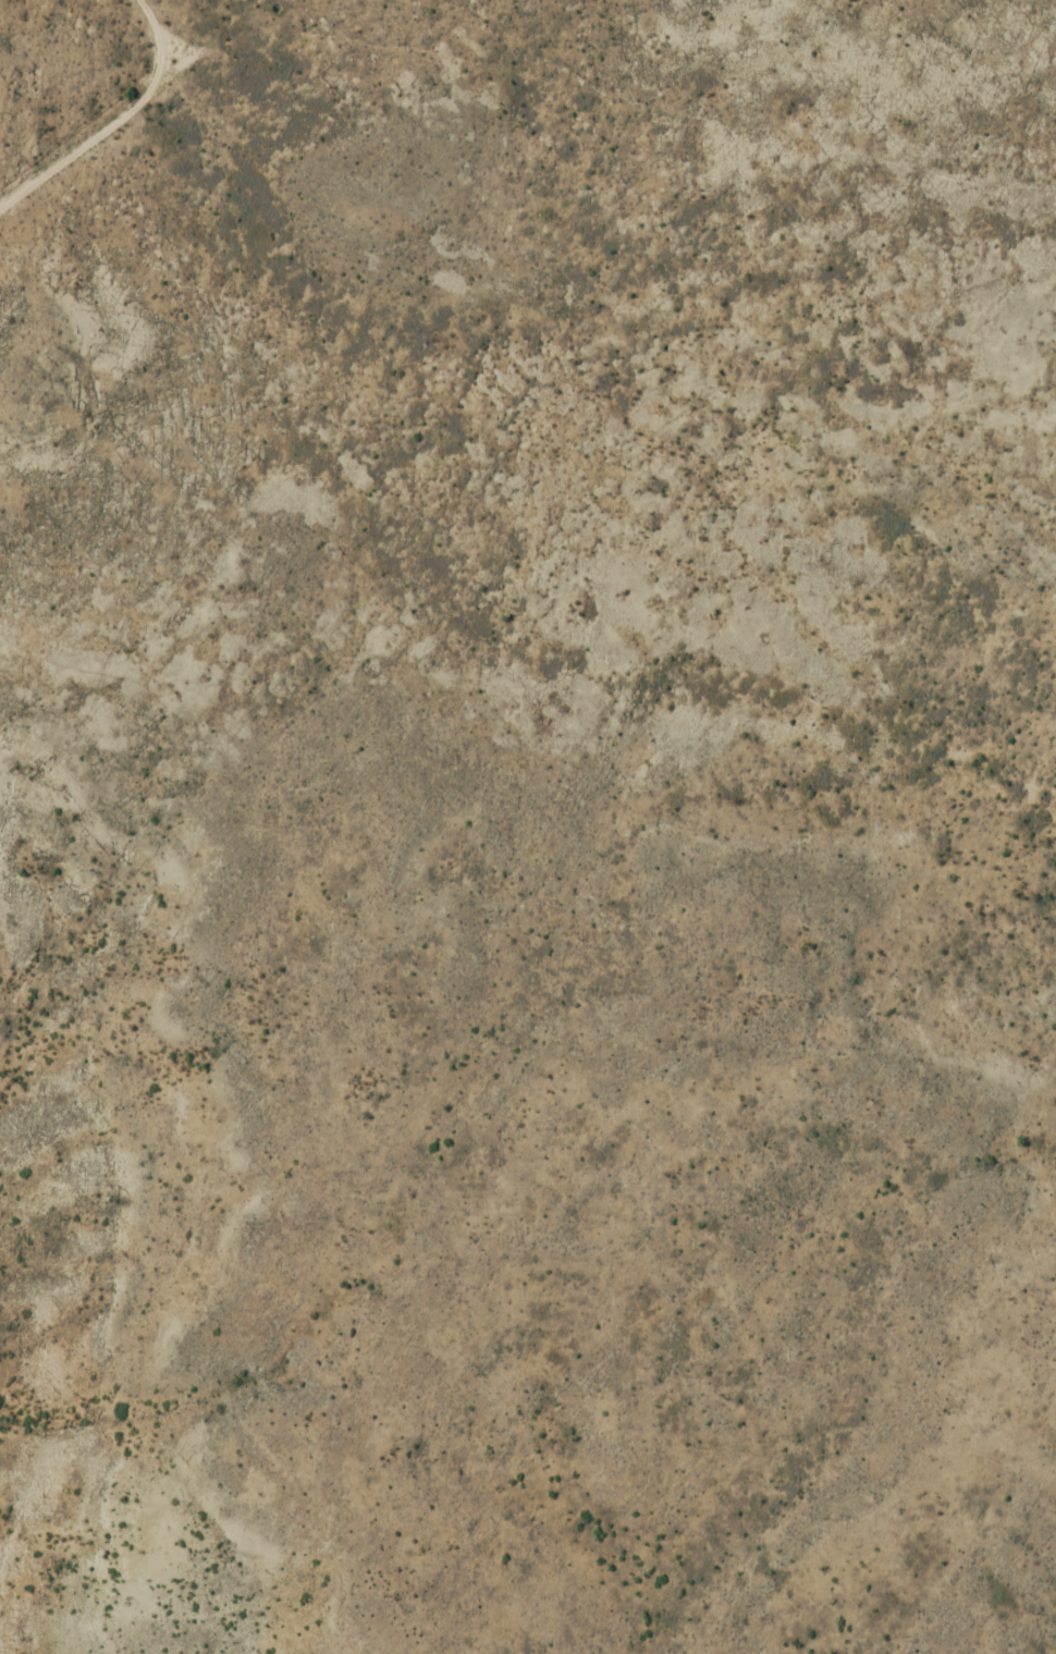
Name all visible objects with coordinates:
road: (161, 32)
road: (137, 106)

